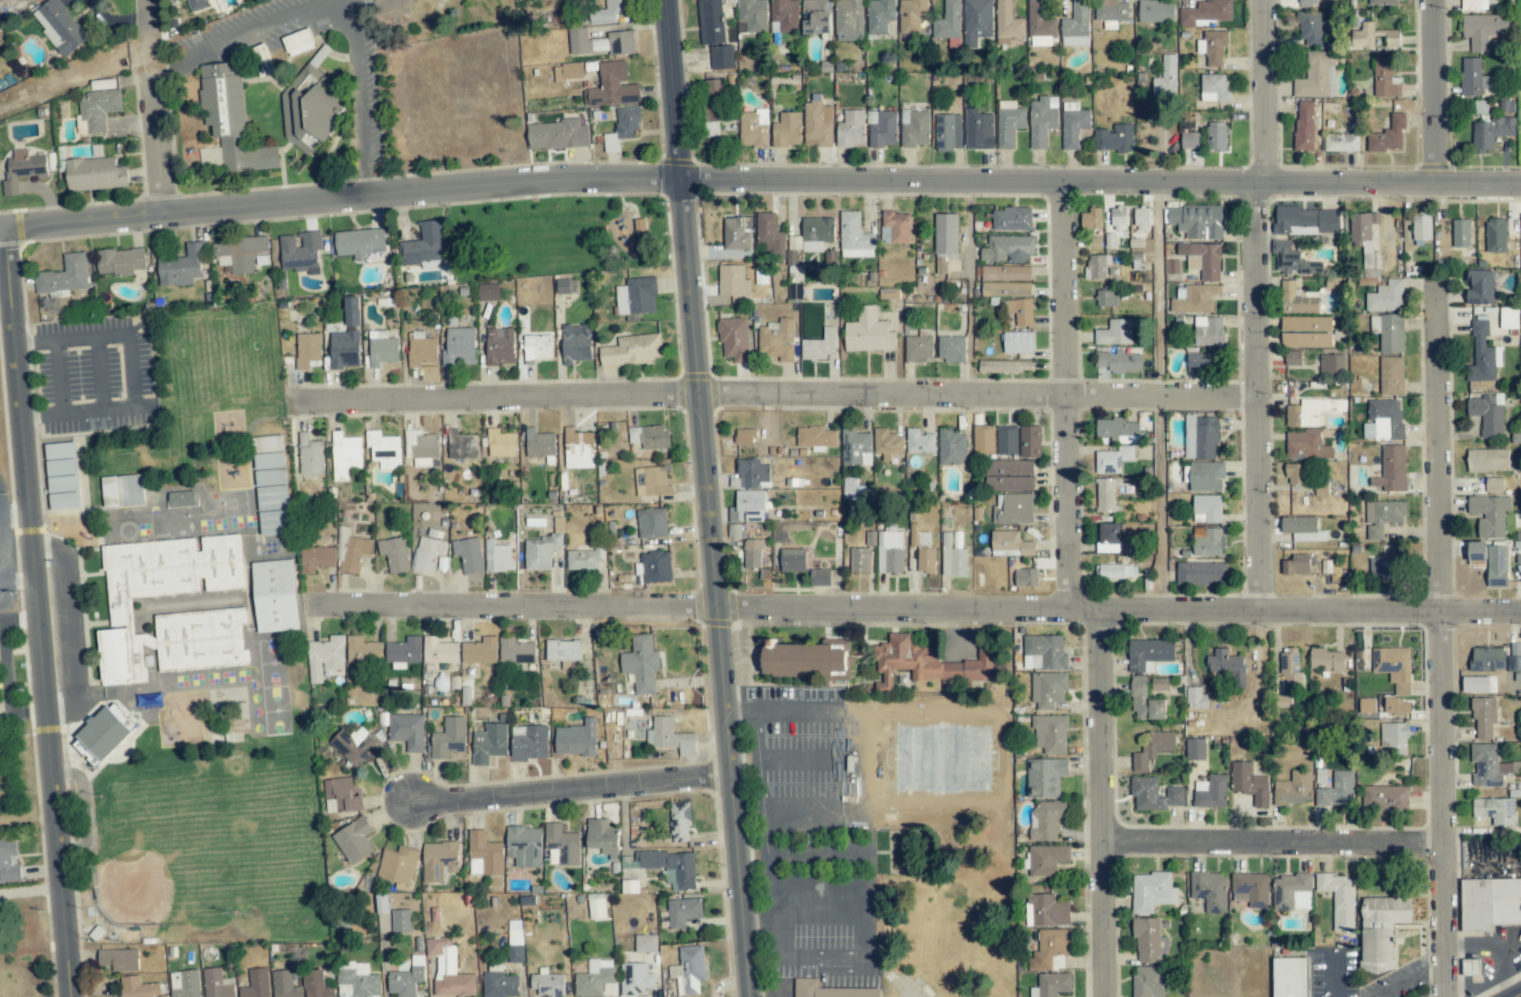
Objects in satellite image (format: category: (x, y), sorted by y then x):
road: (339, 0)
building: (438, 0)
building: (1383, 2)
building: (1306, 3)
building: (197, 4)
building: (1474, 5)
building: (609, 11)
building: (1156, 11)
building: (1110, 12)
building: (1205, 12)
road: (150, 15)
building: (753, 15)
building: (880, 15)
building: (912, 15)
building: (784, 16)
building: (816, 17)
building: (849, 20)
building: (948, 21)
building: (977, 21)
building: (1008, 21)
building: (711, 22)
building: (1040, 25)
building: (1076, 25)
building: (59, 26)
building: (1310, 28)
building: (1483, 30)
building: (1376, 37)
building: (298, 42)
building: (601, 42)
building: (1213, 47)
road: (152, 50)
building: (722, 57)
building: (261, 60)
building: (568, 71)
building: (1317, 76)
building: (1165, 77)
building: (1472, 77)
building: (1385, 78)
building: (612, 87)
building: (1215, 88)
road: (1271, 92)
road: (1440, 93)
building: (312, 106)
building: (712, 106)
building: (98, 109)
building: (231, 119)
building: (1042, 120)
building: (1009, 123)
building: (818, 124)
building: (1073, 124)
building: (1304, 126)
building: (623, 128)
building: (882, 128)
building: (914, 128)
building: (753, 129)
building: (851, 129)
building: (978, 129)
building: (786, 130)
building: (948, 131)
building: (1491, 133)
building: (557, 135)
building: (1388, 135)
building: (1216, 136)
building: (1114, 138)
building: (1189, 140)
road: (161, 141)
building: (1341, 142)
building: (23, 169)
building: (95, 174)
road: (759, 182)
building: (1140, 218)
building: (1012, 219)
building: (1090, 219)
building: (1118, 219)
building: (1197, 221)
building: (1305, 221)
building: (639, 225)
building: (895, 228)
building: (1421, 228)
building: (768, 233)
building: (816, 233)
building: (1461, 233)
building: (735, 234)
building: (1496, 235)
building: (854, 237)
building: (946, 238)
building: (1365, 241)
building: (359, 242)
building: (794, 243)
building: (422, 246)
building: (1008, 249)
building: (300, 252)
building: (239, 253)
building: (1202, 259)
building: (1292, 260)
building: (120, 261)
building: (182, 266)
building: (1096, 266)
building: (1171, 266)
building: (1006, 273)
building: (65, 275)
building: (733, 281)
building: (567, 286)
building: (1480, 287)
building: (1005, 289)
building: (488, 292)
building: (636, 296)
building: (1106, 296)
building: (1386, 297)
building: (1194, 299)
building: (1297, 300)
building: (1509, 318)
building: (1208, 331)
building: (868, 332)
building: (1116, 332)
building: (1306, 332)
building: (1388, 332)
building: (346, 338)
building: (733, 339)
building: (776, 340)
building: (1017, 342)
building: (576, 343)
building: (819, 345)
building: (499, 346)
building: (459, 347)
building: (537, 347)
building: (918, 347)
building: (382, 348)
building: (307, 349)
building: (951, 349)
building: (632, 350)
building: (421, 351)
building: (1482, 354)
building: (1293, 358)
building: (1119, 361)
building: (1203, 361)
building: (1332, 365)
building: (999, 367)
road: (130, 371)
building: (1391, 376)
road: (55, 377)
road: (773, 395)
road: (1066, 396)
road: (1159, 396)
road: (1257, 397)
building: (1310, 412)
building: (1487, 414)
building: (1383, 420)
building: (1117, 430)
building: (744, 436)
building: (649, 437)
building: (1201, 437)
building: (815, 438)
building: (983, 440)
building: (1006, 440)
building: (919, 442)
building: (1030, 442)
building: (501, 443)
building: (539, 443)
building: (887, 444)
building: (461, 445)
building: (1306, 445)
building: (421, 447)
building: (855, 447)
building: (952, 447)
building: (384, 449)
building: (578, 449)
building: (310, 455)
building: (345, 455)
building: (61, 459)
building: (269, 460)
building: (1112, 460)
building: (1487, 460)
building: (1392, 469)
building: (1295, 473)
building: (752, 474)
building: (1008, 475)
building: (1206, 476)
building: (656, 481)
building: (63, 484)
building: (1494, 485)
building: (122, 490)
building: (854, 490)
building: (1105, 495)
building: (272, 498)
road: (710, 498)
building: (181, 499)
building: (64, 500)
building: (748, 507)
building: (1014, 509)
building: (1206, 509)
building: (1490, 514)
building: (1382, 517)
building: (273, 522)
building: (652, 522)
building: (1302, 529)
building: (733, 530)
building: (1108, 537)
building: (1207, 542)
building: (1010, 544)
building: (922, 549)
building: (541, 551)
building: (351, 552)
building: (889, 552)
building: (394, 554)
building: (752, 554)
building: (1476, 554)
building: (428, 555)
building: (468, 555)
building: (498, 557)
building: (316, 558)
building: (584, 558)
building: (952, 558)
building: (792, 560)
building: (859, 560)
building: (1296, 565)
building: (1386, 568)
building: (1115, 571)
building: (1201, 573)
building: (820, 577)
building: (1026, 577)
building: (275, 596)
road: (913, 608)
building: (220, 611)
road: (71, 628)
road: (32, 633)
road: (1442, 646)
building: (363, 650)
building: (403, 650)
building: (439, 651)
building: (480, 651)
building: (515, 651)
building: (1044, 653)
building: (1148, 654)
building: (564, 655)
building: (325, 657)
building: (1514, 657)
building: (1488, 659)
building: (1327, 660)
building: (926, 663)
building: (641, 664)
building: (1227, 667)
building: (1290, 667)
building: (1393, 667)
building: (1475, 684)
building: (1048, 689)
building: (1195, 698)
building: (1283, 700)
building: (1145, 702)
building: (1367, 705)
building: (1397, 706)
road: (797, 708)
building: (1484, 717)
building: (106, 730)
building: (407, 731)
building: (1050, 734)
building: (670, 737)
building: (1393, 737)
building: (449, 738)
building: (576, 739)
building: (489, 743)
building: (530, 744)
building: (356, 746)
building: (1153, 748)
building: (1195, 749)
road: (810, 761)
building: (1487, 766)
building: (1045, 777)
building: (1249, 783)
building: (1293, 789)
building: (1337, 789)
road: (571, 790)
building: (1210, 792)
building: (342, 794)
building: (1154, 794)
building: (1385, 798)
road: (1102, 803)
building: (1495, 810)
road: (762, 811)
road: (813, 812)
building: (1046, 819)
building: (679, 822)
building: (602, 836)
building: (354, 840)
road: (1273, 843)
building: (562, 844)
building: (524, 846)
park: (206, 849)
building: (484, 855)
building: (1046, 860)
building: (9, 861)
building: (439, 861)
building: (398, 865)
building: (671, 867)
building: (629, 886)
building: (1251, 889)
building: (1210, 890)
road: (27, 891)
building: (1151, 892)
building: (1291, 892)
building: (1339, 899)
building: (1490, 903)
building: (596, 906)
road: (831, 909)
building: (1049, 911)
building: (683, 912)
building: (401, 921)
building: (1381, 930)
road: (783, 937)
building: (515, 941)
building: (1148, 941)
building: (645, 943)
building: (1050, 950)
building: (119, 959)
road: (827, 960)
building: (1470, 967)
building: (448, 969)
building: (688, 970)
road: (1332, 976)
building: (407, 977)
building: (1290, 977)
road: (1409, 978)
building: (357, 979)
building: (597, 979)
building: (635, 979)
building: (1148, 982)
building: (185, 984)
building: (217, 984)
building: (256, 984)
building: (547, 984)
building: (284, 985)
building: (317, 985)
building: (500, 985)
building: (1051, 985)
building: (137, 987)
building: (829, 990)
road: (1445, 996)

